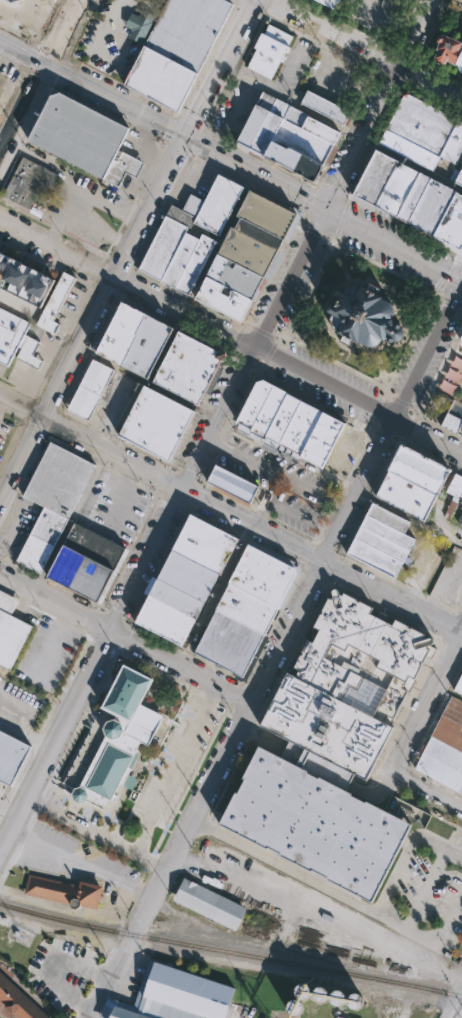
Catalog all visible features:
road: (122, 5)
building: (328, 5)
road: (114, 21)
building: (139, 24)
road: (60, 31)
building: (188, 31)
road: (368, 50)
building: (447, 50)
building: (271, 52)
traffic signals: (45, 62)
road: (215, 66)
building: (161, 79)
building: (2, 83)
road: (286, 99)
road: (369, 103)
road: (22, 105)
parking lot: (234, 108)
building: (324, 108)
road: (6, 122)
road: (160, 122)
building: (422, 123)
building: (260, 125)
building: (310, 127)
building: (78, 132)
traffic signals: (183, 134)
road: (148, 140)
building: (301, 143)
building: (454, 143)
building: (407, 148)
road: (37, 159)
road: (408, 162)
building: (293, 164)
road: (135, 166)
building: (461, 166)
building: (123, 168)
building: (459, 176)
building: (370, 178)
building: (29, 181)
road: (72, 182)
building: (392, 189)
road: (81, 190)
road: (124, 190)
building: (409, 198)
building: (209, 204)
building: (427, 207)
traffic signals: (321, 208)
parking lot: (87, 211)
building: (265, 216)
building: (449, 224)
road: (95, 228)
road: (218, 241)
road: (391, 246)
building: (249, 249)
building: (163, 250)
building: (180, 261)
flagpole: (352, 262)
building: (195, 267)
road: (287, 278)
building: (24, 279)
building: (234, 279)
road: (126, 281)
building: (60, 292)
building: (221, 301)
road: (16, 303)
road: (83, 311)
road: (92, 317)
building: (361, 319)
building: (48, 321)
building: (120, 332)
building: (11, 333)
building: (460, 337)
building: (146, 345)
road: (51, 348)
road: (428, 352)
building: (29, 353)
road: (36, 361)
building: (456, 361)
building: (185, 369)
building: (451, 373)
road: (145, 383)
road: (24, 384)
road: (323, 384)
building: (445, 385)
building: (89, 388)
building: (252, 405)
building: (267, 413)
road: (123, 414)
building: (281, 420)
building: (450, 423)
building: (157, 426)
building: (299, 429)
parking lot: (6, 431)
road: (428, 437)
building: (322, 441)
road: (222, 443)
parking lot: (346, 454)
parking lot: (1, 456)
building: (417, 468)
parking lot: (278, 470)
road: (280, 473)
road: (160, 478)
building: (59, 479)
road: (3, 484)
building: (233, 484)
road: (180, 487)
building: (454, 491)
building: (405, 493)
building: (461, 498)
road: (335, 500)
parking lot: (115, 510)
parking lot: (295, 511)
building: (388, 517)
road: (70, 518)
building: (460, 518)
building: (387, 531)
road: (448, 534)
building: (42, 539)
building: (381, 542)
building: (205, 543)
building: (94, 545)
building: (374, 556)
road: (321, 559)
building: (79, 572)
building: (188, 575)
building: (262, 575)
parking lot: (450, 581)
road: (214, 594)
road: (387, 596)
building: (176, 598)
building: (246, 608)
building: (165, 620)
road: (458, 624)
road: (458, 633)
building: (11, 634)
road: (124, 634)
building: (229, 642)
railway: (276, 646)
parking lot: (50, 654)
building: (459, 685)
road: (419, 701)
building: (450, 723)
road: (24, 730)
road: (54, 735)
building: (118, 737)
building: (330, 751)
building: (11, 755)
parking lot: (179, 761)
building: (442, 763)
road: (174, 767)
road: (381, 785)
road: (424, 791)
building: (0, 812)
road: (94, 829)
road: (455, 849)
road: (168, 858)
parking lot: (73, 859)
road: (78, 862)
road: (396, 870)
road: (427, 887)
building: (64, 892)
parking lot: (425, 893)
building: (209, 903)
road: (316, 911)
road: (443, 930)
railway: (230, 951)
road: (50, 965)
parking lot: (61, 966)
railway: (305, 973)
building: (302, 993)
silo: (302, 993)
building: (180, 996)
building: (318, 997)
silo: (318, 997)
building: (18, 1000)
building: (337, 1000)
silo: (337, 1000)
road: (453, 1000)
building: (356, 1003)
silo: (356, 1003)
building: (295, 1009)
silo: (295, 1009)

